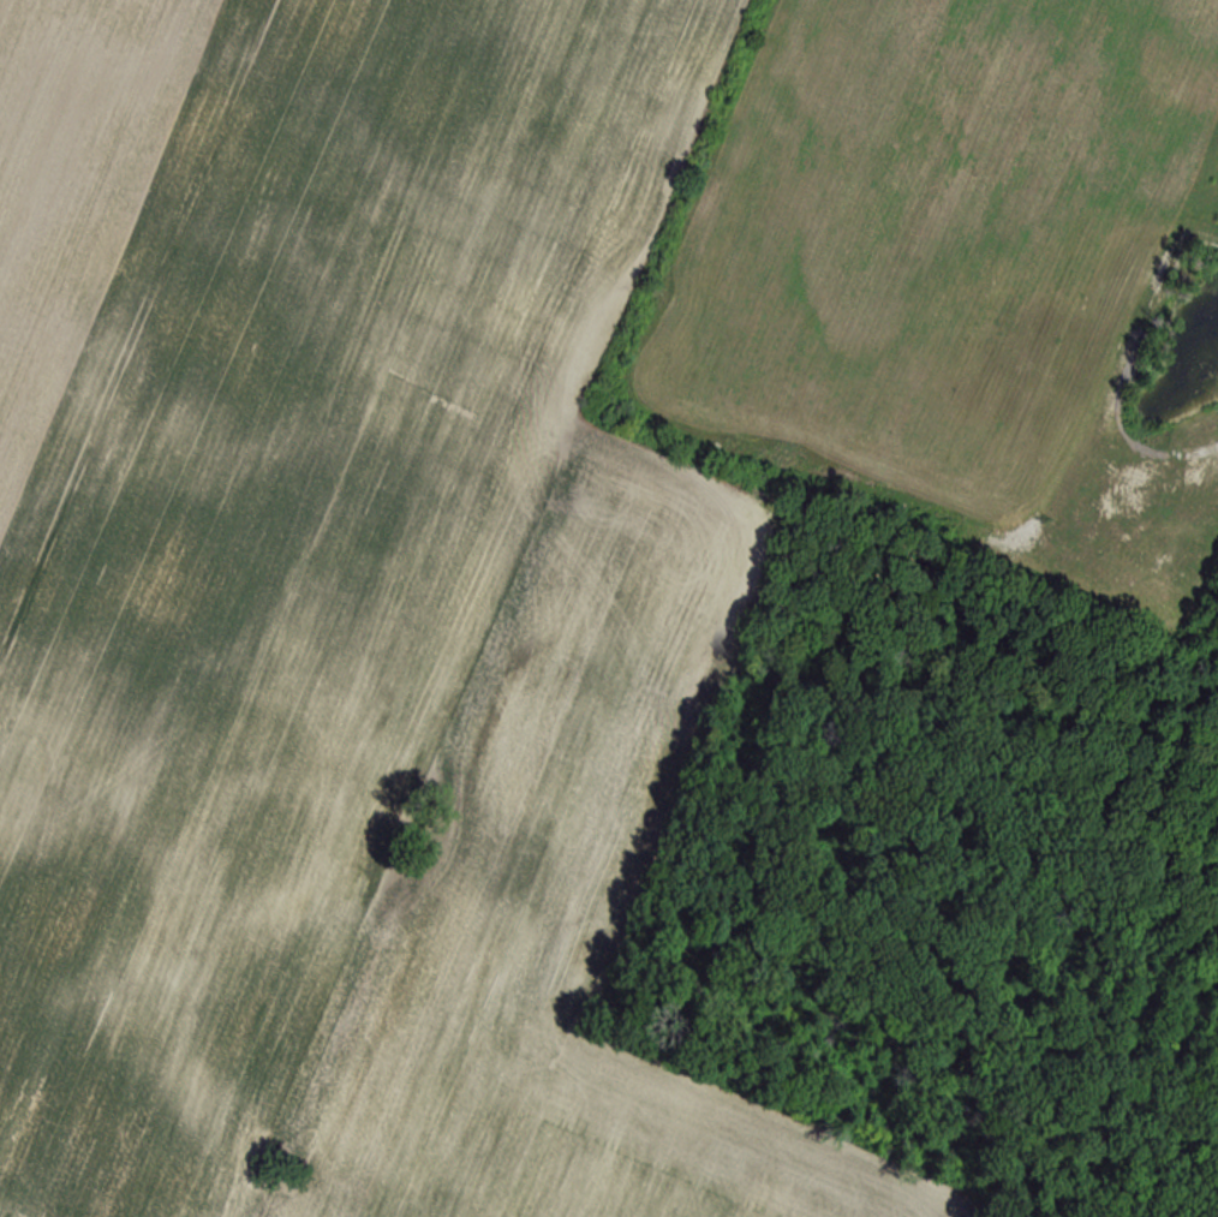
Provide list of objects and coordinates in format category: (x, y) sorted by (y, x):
crop: (948, 264)
crop: (276, 515)
crop: (574, 932)

